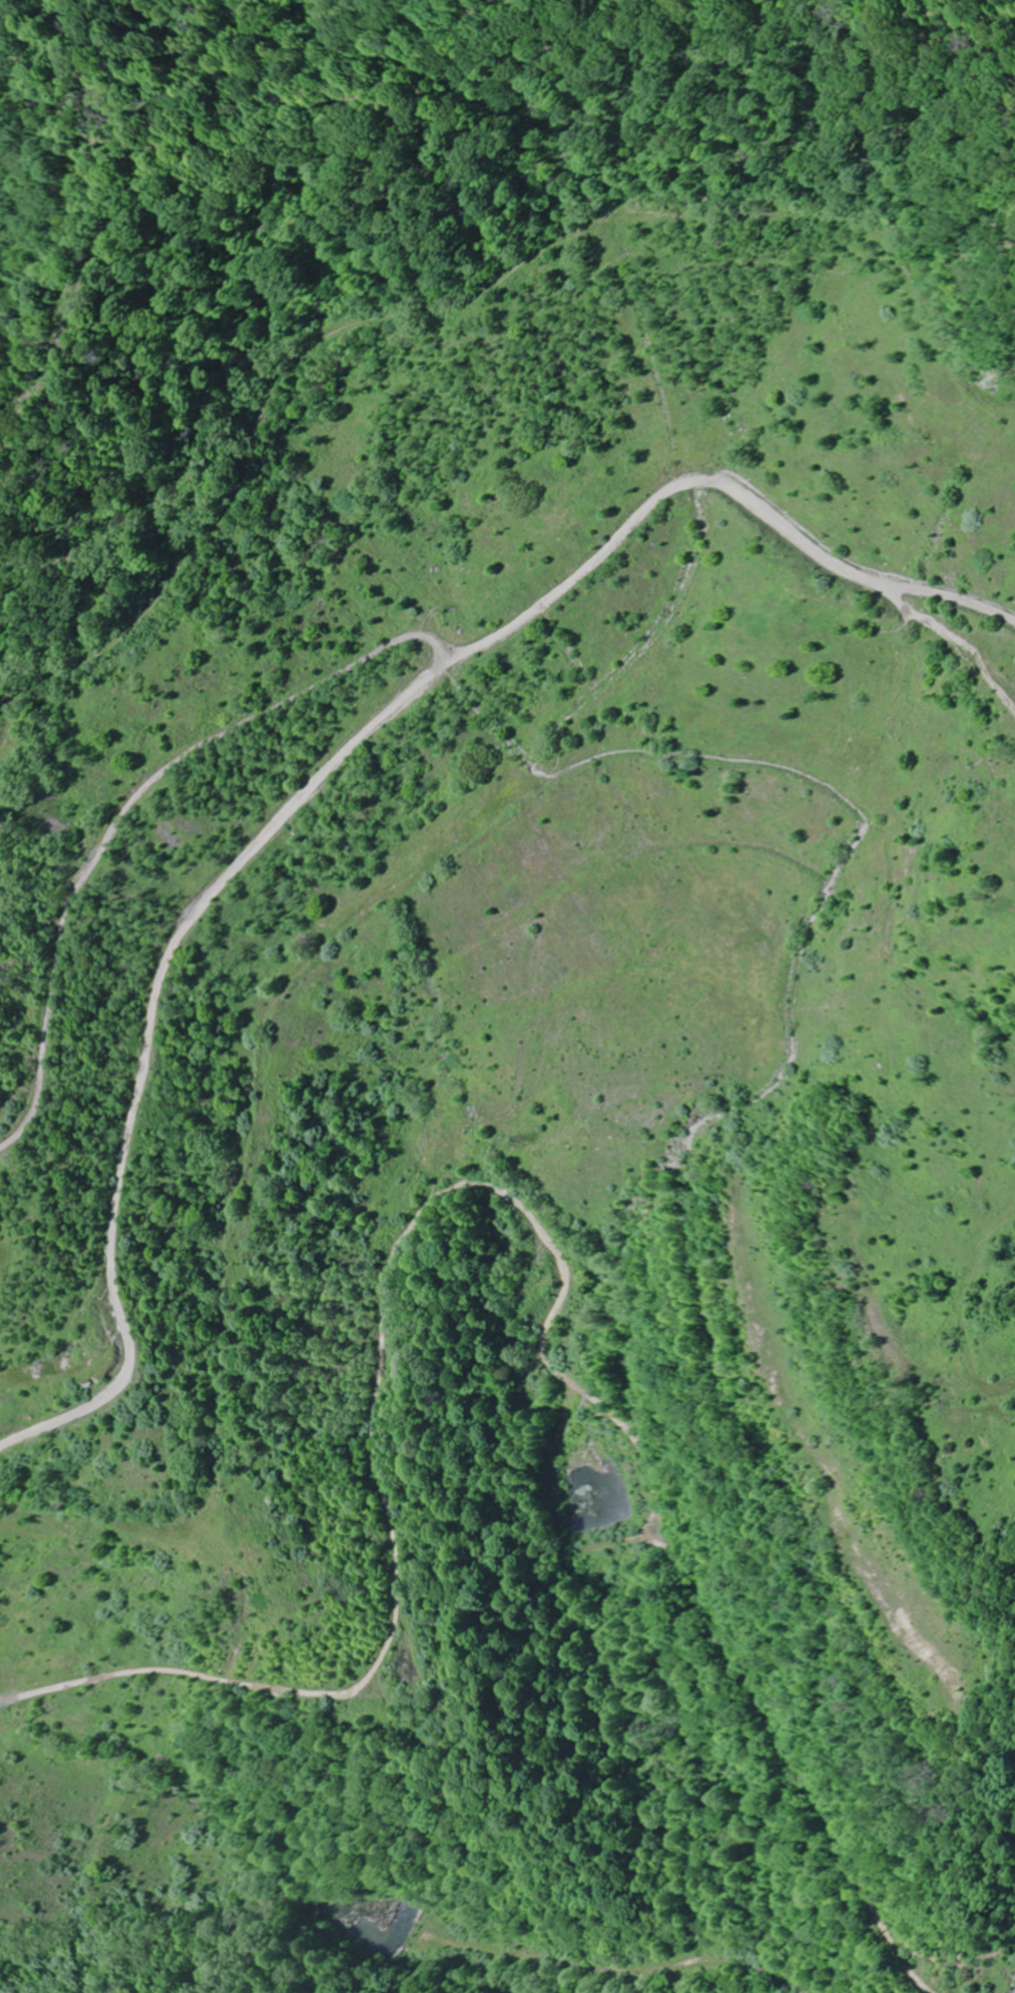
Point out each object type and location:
road: (333, 765)

